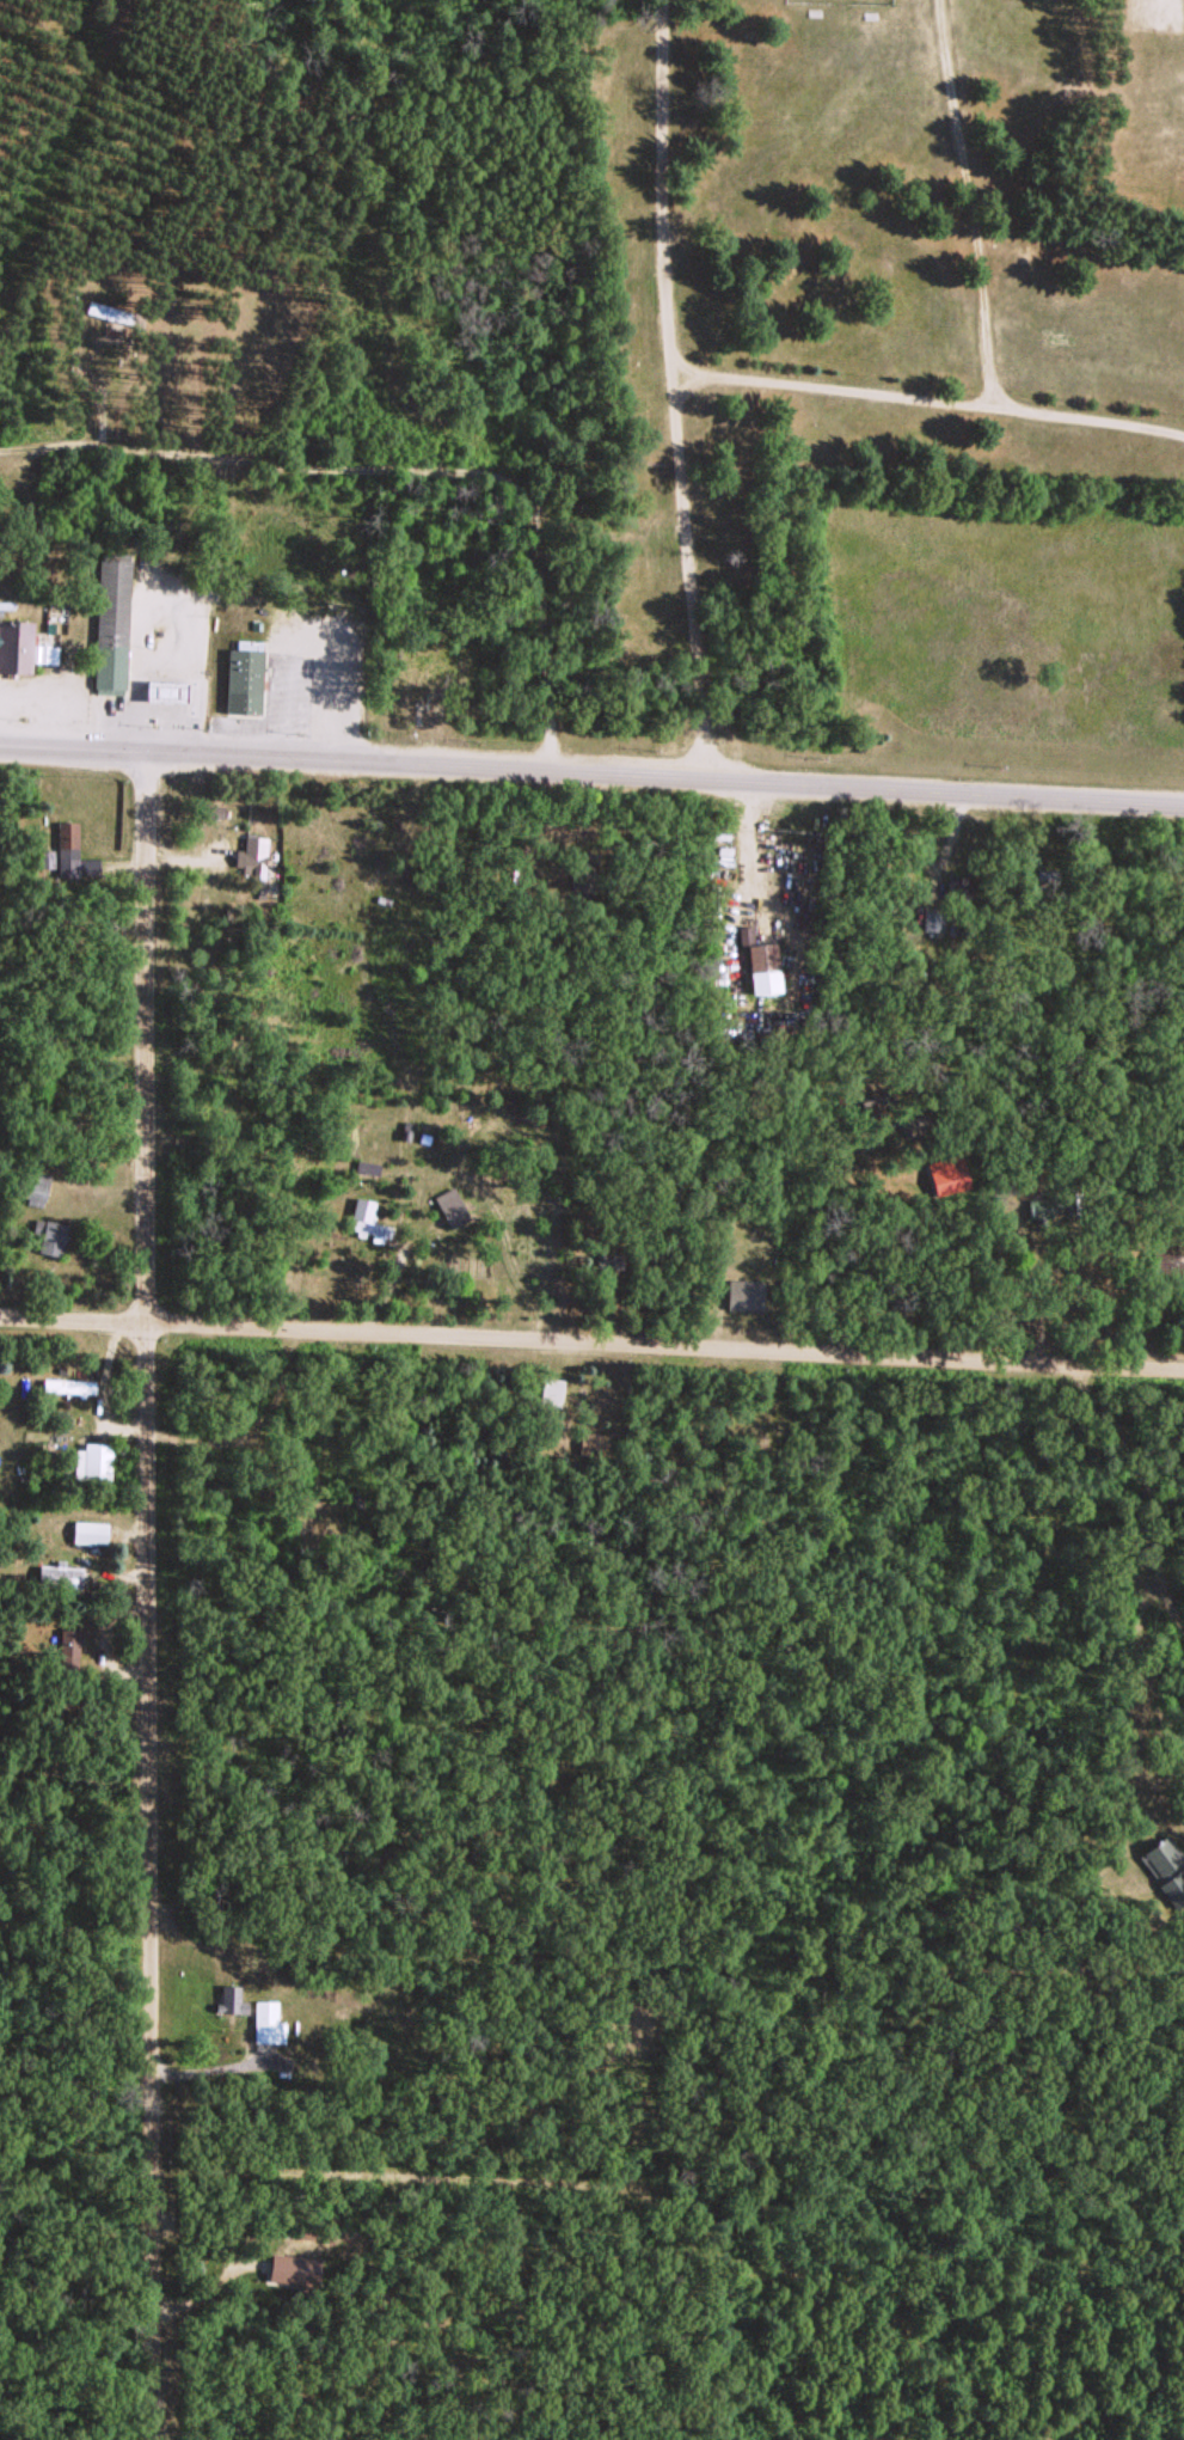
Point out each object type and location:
park: (738, 264)
road: (981, 298)
building: (116, 311)
road: (100, 385)
road: (671, 389)
road: (832, 389)
road: (404, 466)
building: (110, 622)
building: (16, 644)
building: (243, 675)
building: (164, 686)
gas station: (164, 686)
building: (413, 687)
road: (591, 769)
building: (251, 854)
building: (70, 861)
building: (583, 869)
building: (1047, 875)
building: (932, 917)
building: (762, 967)
building: (36, 1187)
building: (1043, 1204)
building: (450, 1206)
building: (364, 1217)
building: (49, 1235)
building: (609, 1260)
building: (1165, 1262)
building: (743, 1292)
road: (591, 1337)
building: (68, 1384)
building: (92, 1460)
building: (90, 1531)
building: (59, 1576)
road: (153, 1592)
building: (69, 1649)
building: (1167, 1864)
building: (237, 1998)
building: (268, 2022)

